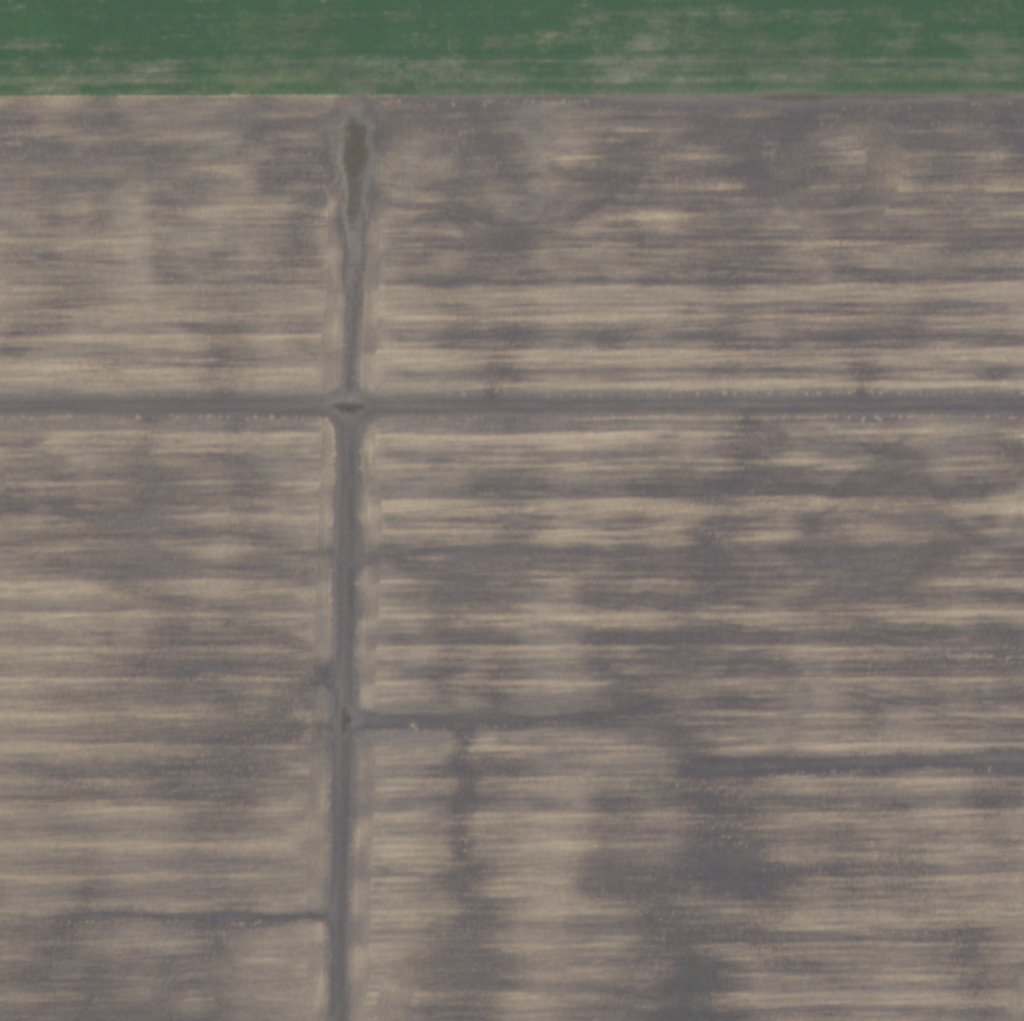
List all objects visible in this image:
crop: (512, 510)

